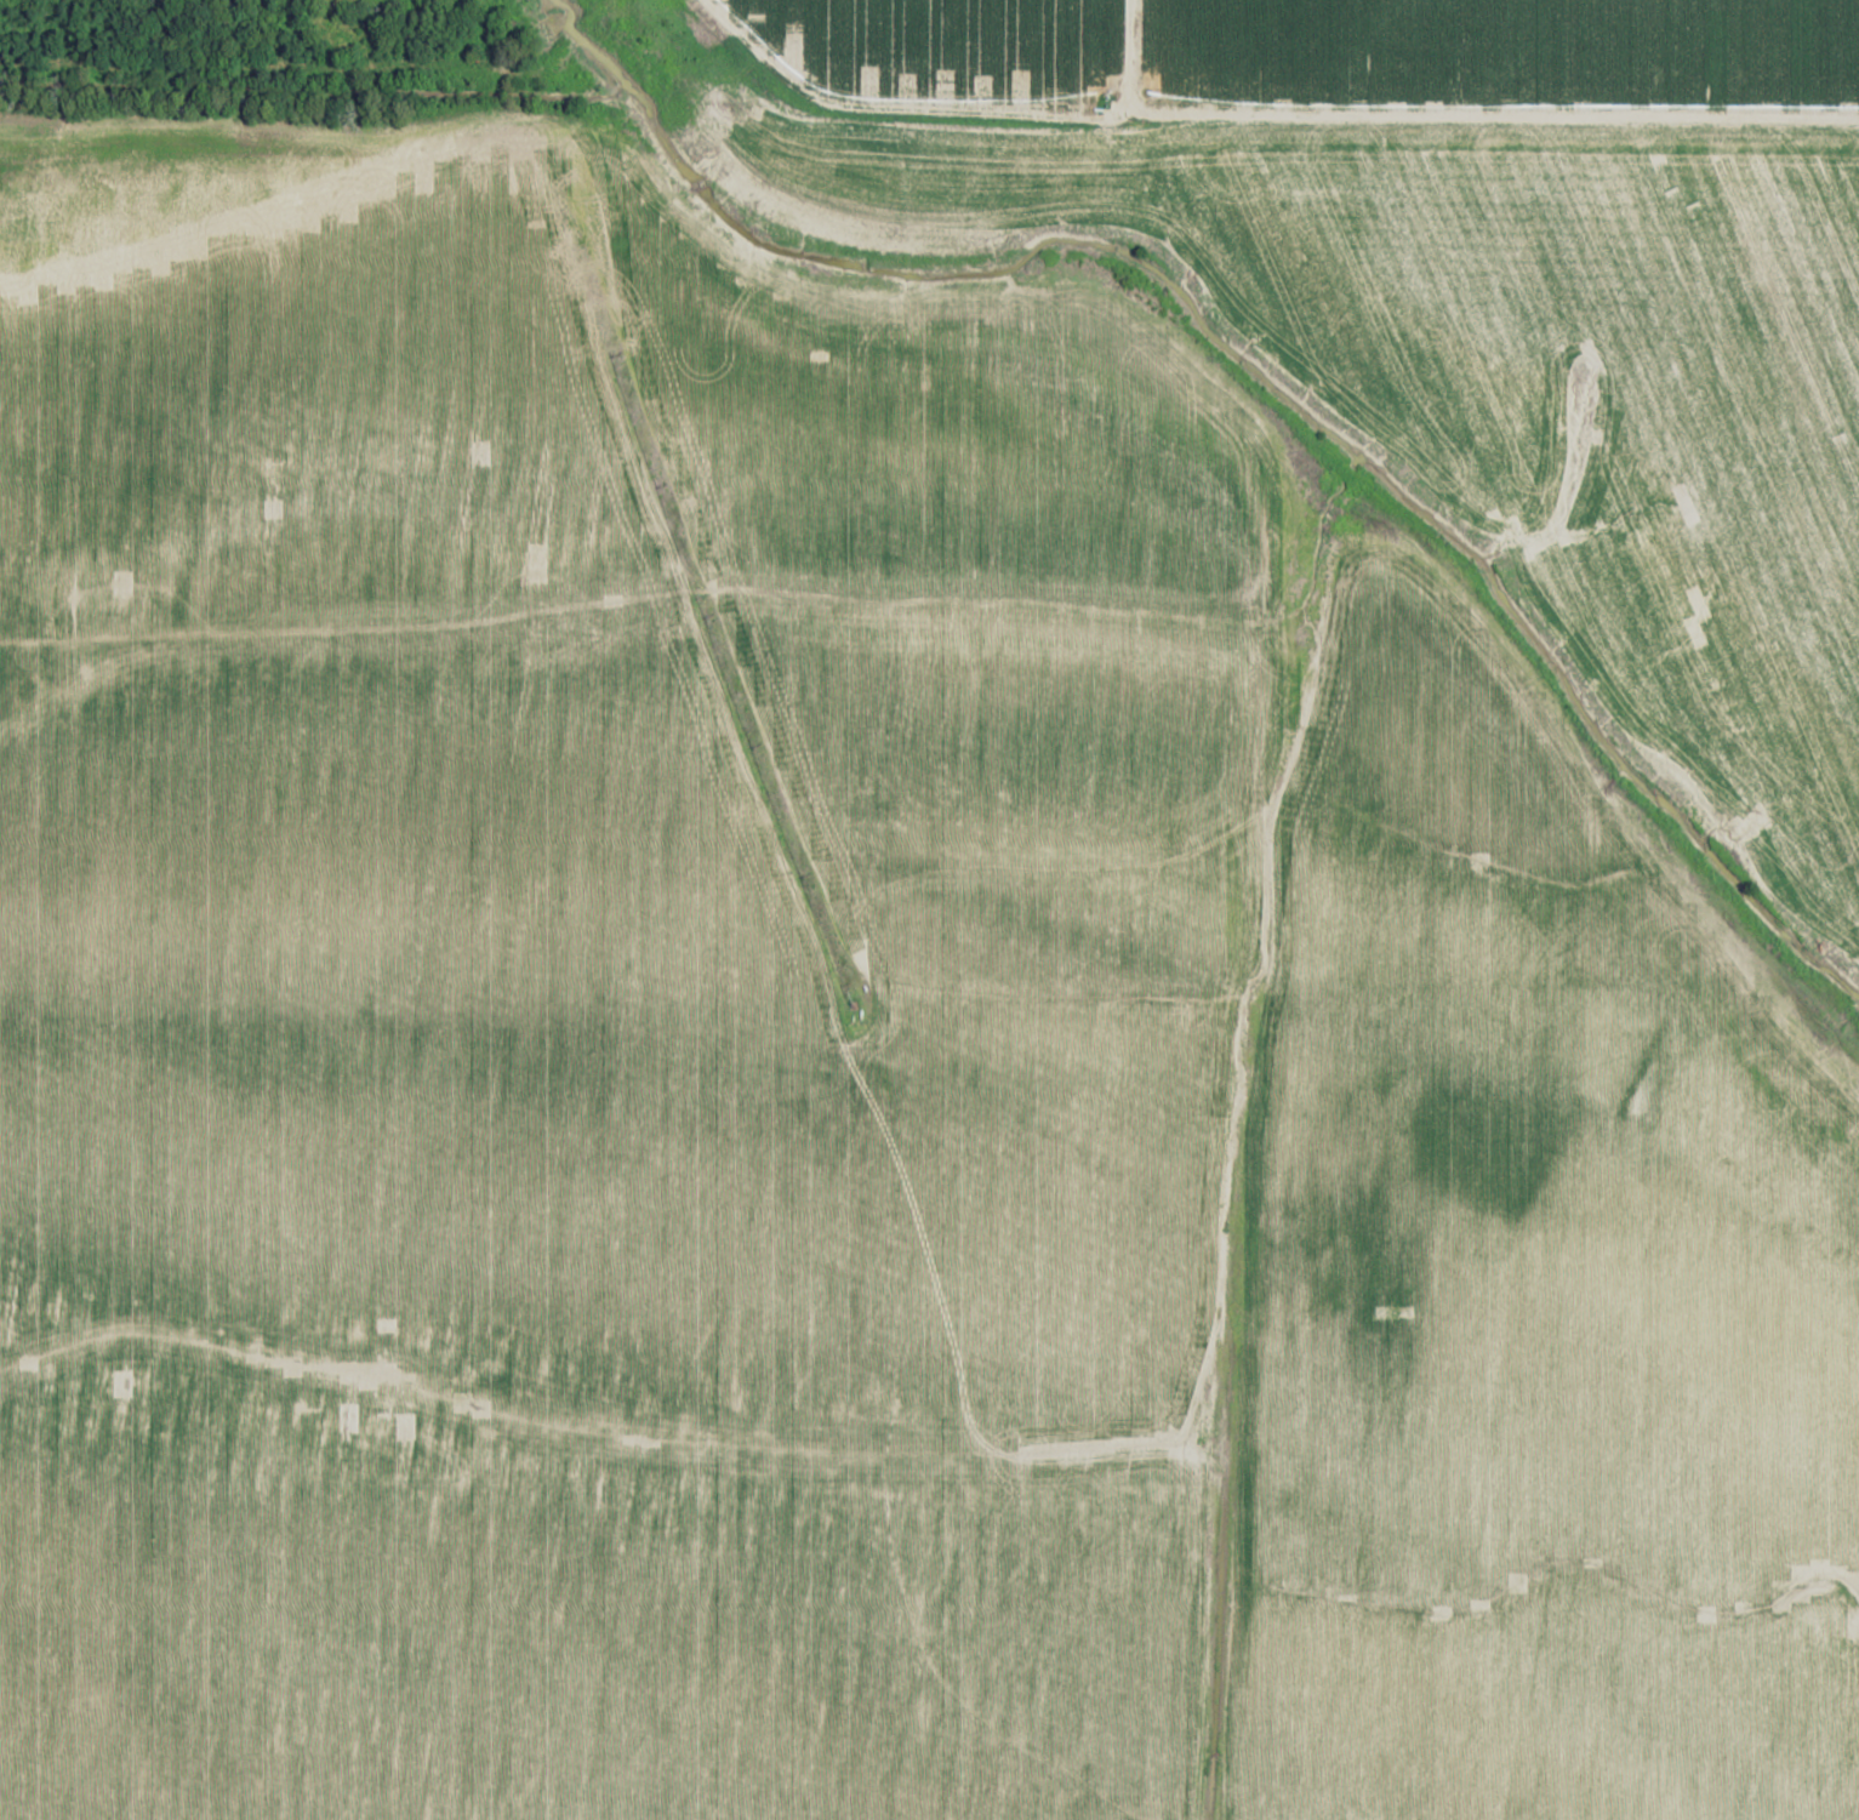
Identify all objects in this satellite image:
road: (1125, 55)
road: (343, 92)
road: (1264, 113)
road: (1227, 1428)

